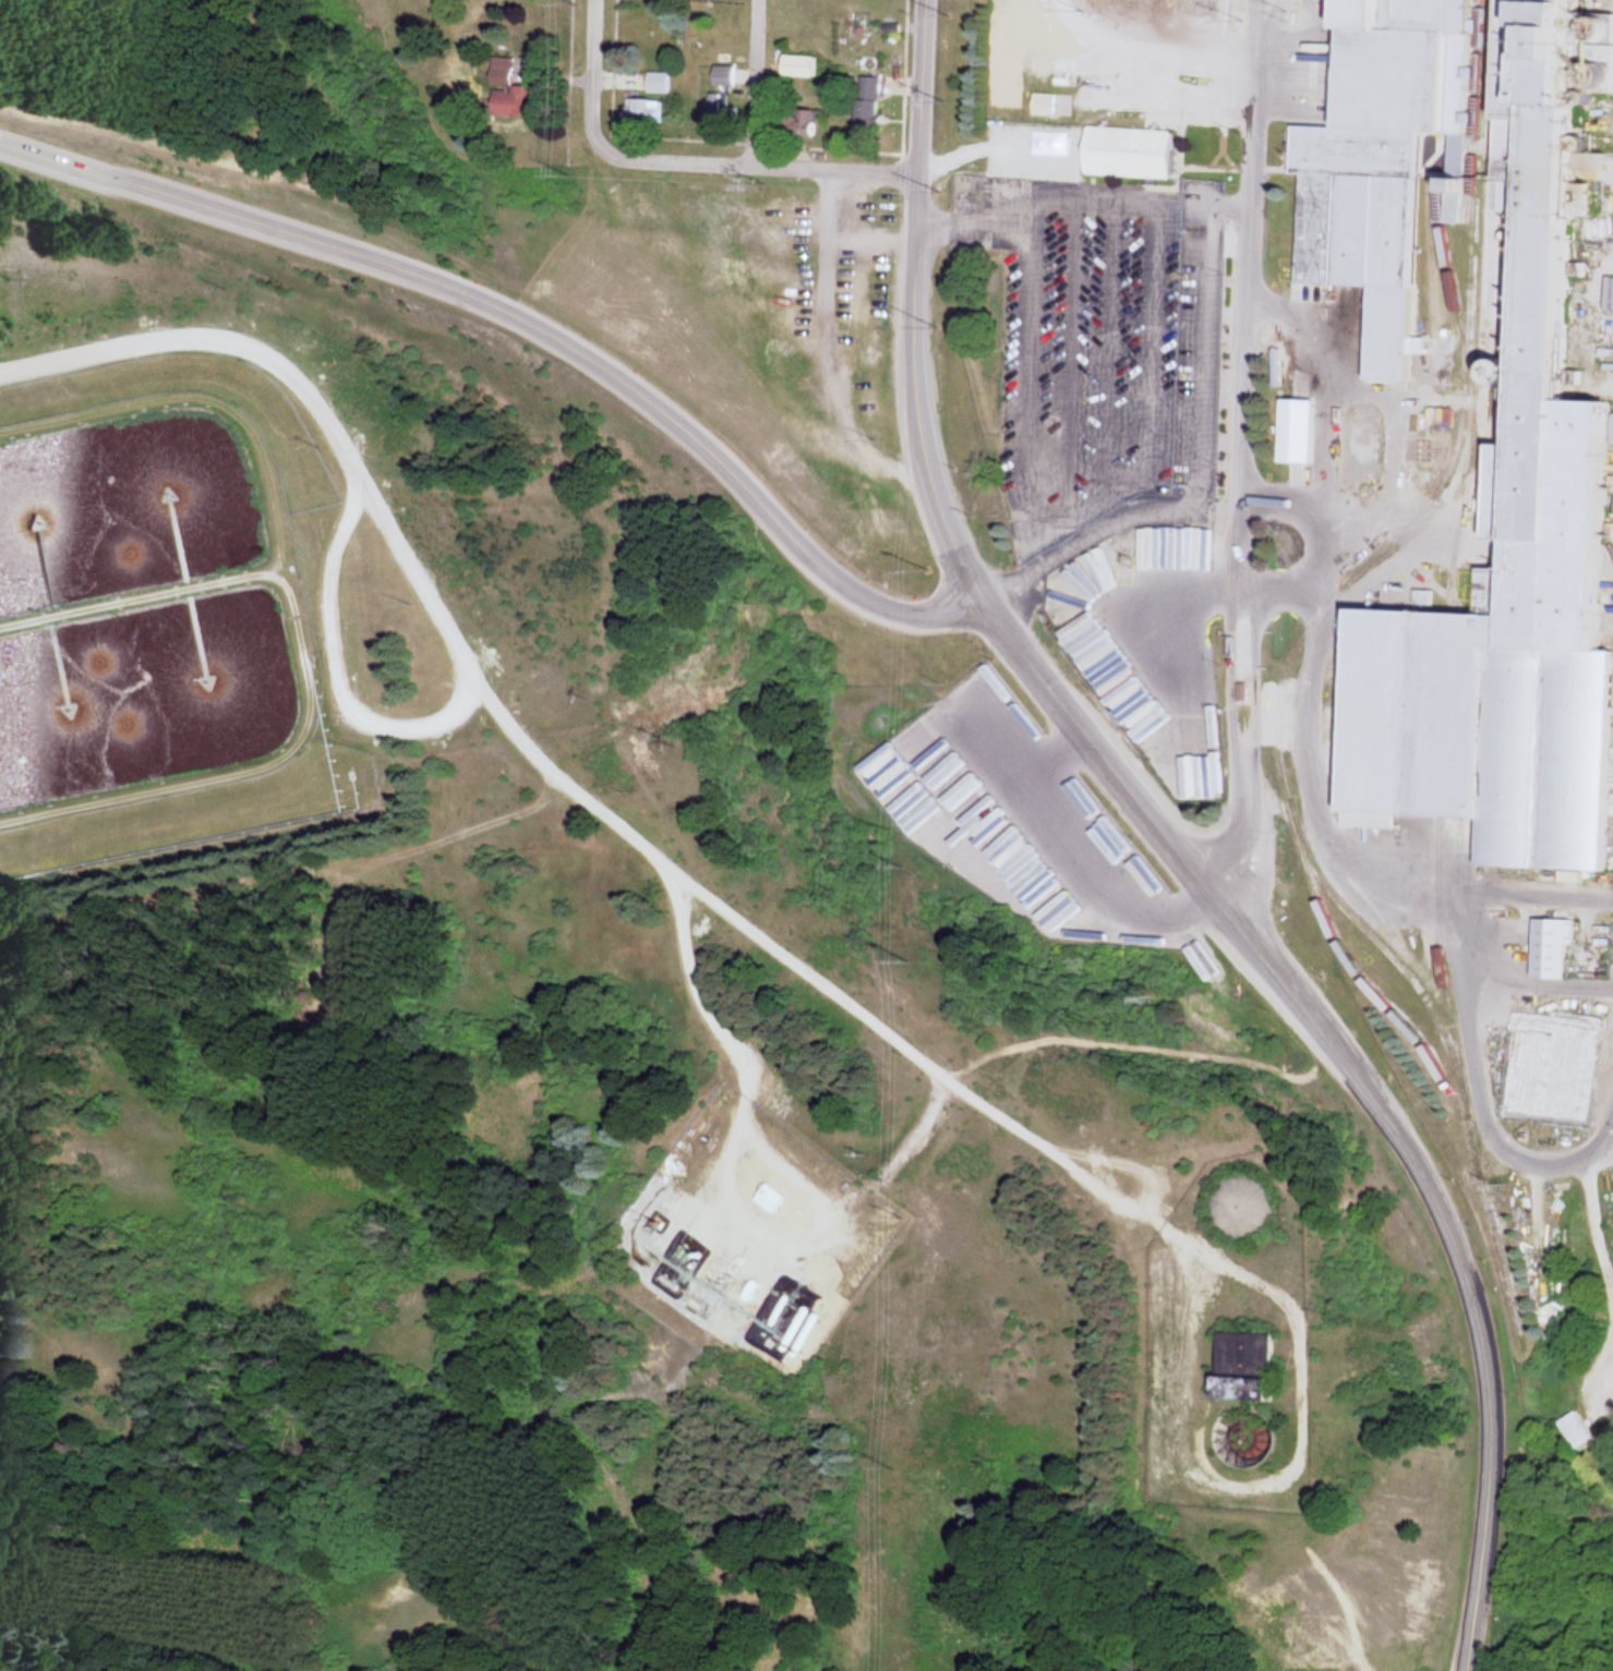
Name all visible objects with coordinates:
building: (795, 66)
building: (497, 72)
building: (719, 76)
road: (582, 80)
building: (653, 84)
road: (749, 84)
road: (919, 89)
building: (863, 105)
building: (713, 106)
building: (1040, 106)
building: (641, 110)
building: (798, 122)
building: (1127, 155)
road: (757, 168)
building: (1359, 229)
road: (330, 251)
road: (910, 393)
building: (1292, 433)
road: (1236, 482)
road: (761, 508)
railway: (1340, 592)
wastewater plant: (158, 612)
road: (927, 616)
road: (129, 628)
road: (270, 642)
building: (1496, 656)
railway: (1447, 671)
road: (1128, 800)
railway: (1382, 947)
building: (1548, 949)
building: (770, 1200)
building: (737, 1288)
road: (1470, 1310)
building: (1249, 1392)
building: (1570, 1433)

